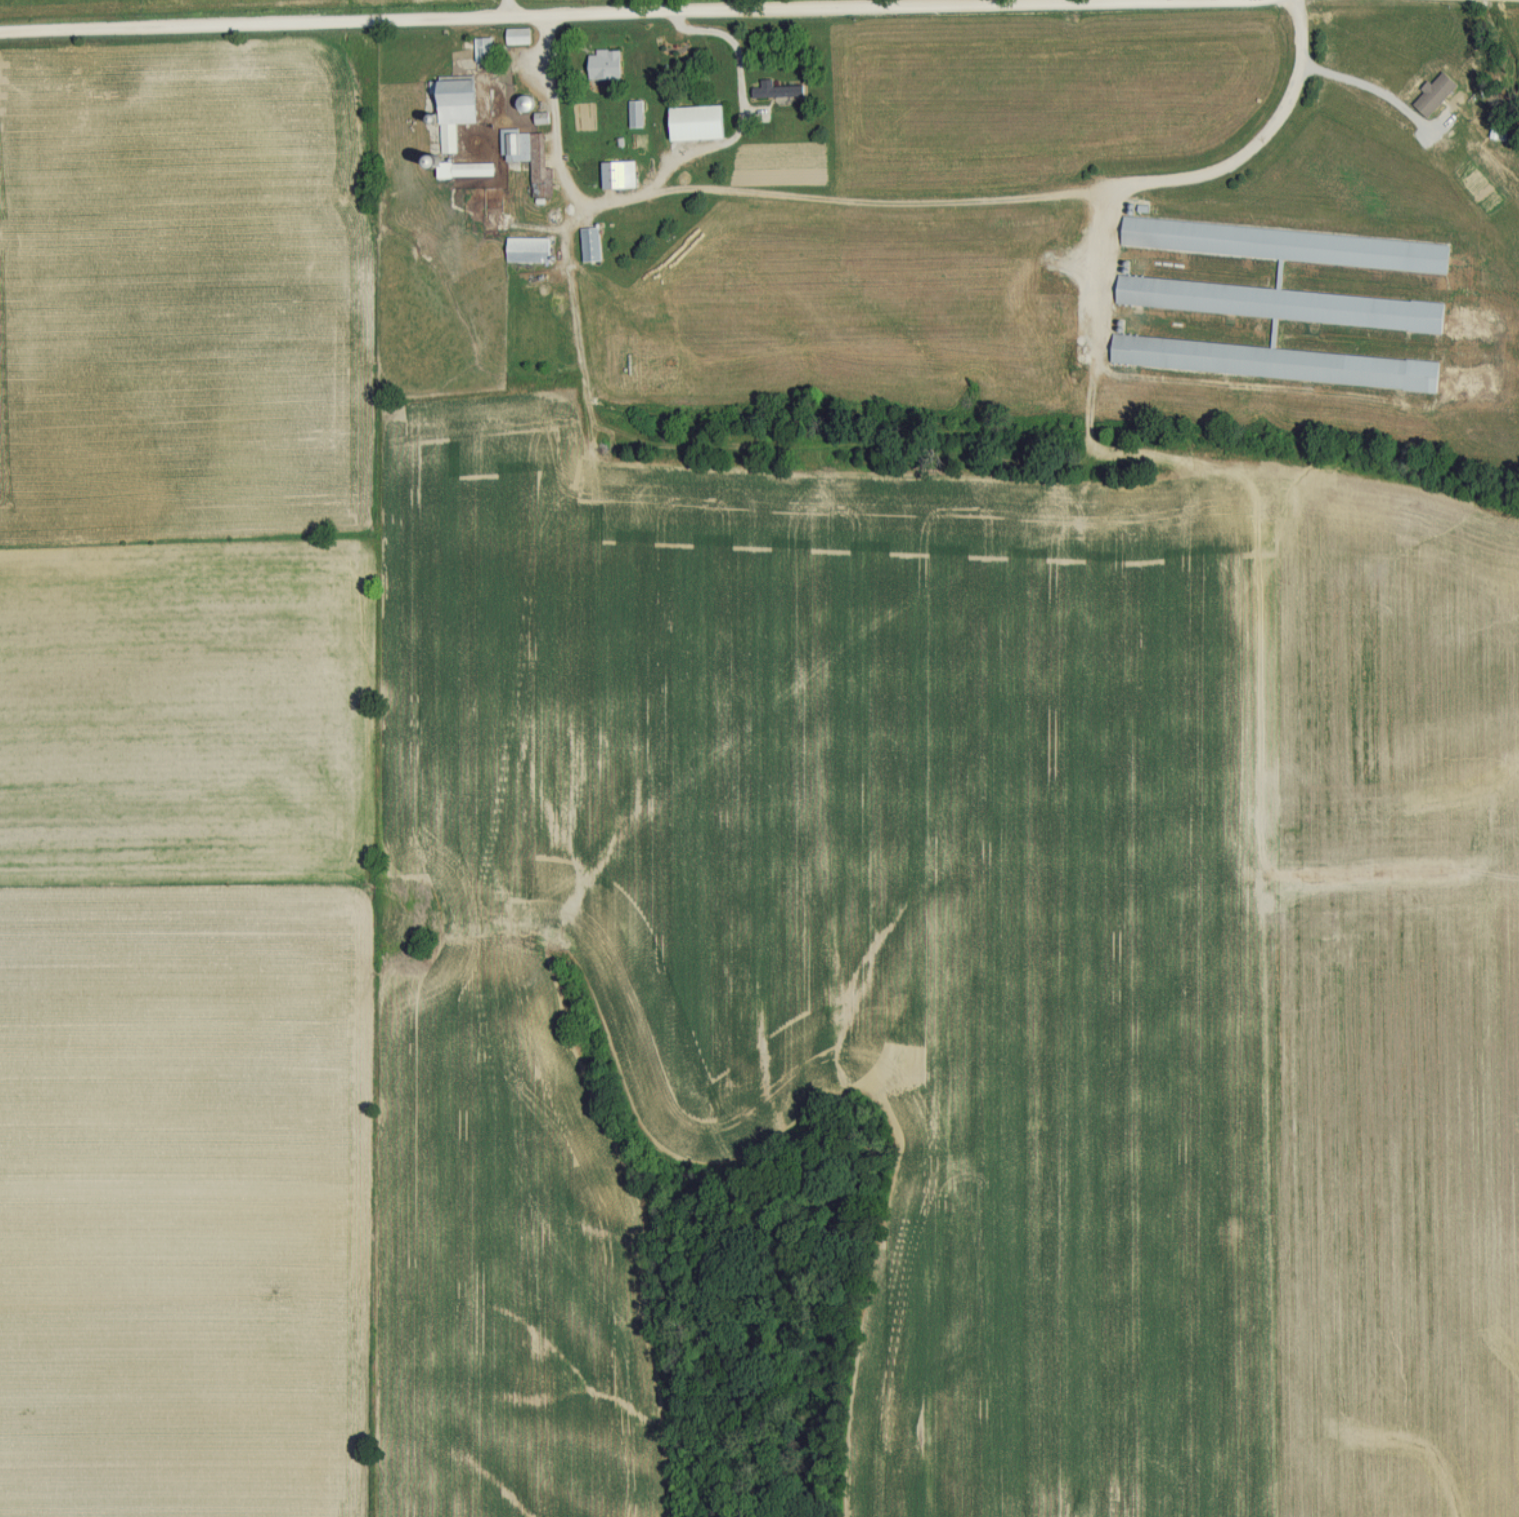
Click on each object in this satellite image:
road: (1469, 0)
road: (504, 10)
road: (624, 15)
building: (520, 36)
building: (486, 49)
building: (608, 64)
road: (1379, 81)
building: (778, 90)
building: (458, 107)
building: (701, 122)
building: (531, 158)
building: (460, 167)
building: (621, 174)
road: (663, 179)
road: (1033, 194)
building: (592, 244)
building: (530, 250)
road: (1100, 269)
building: (1283, 304)

